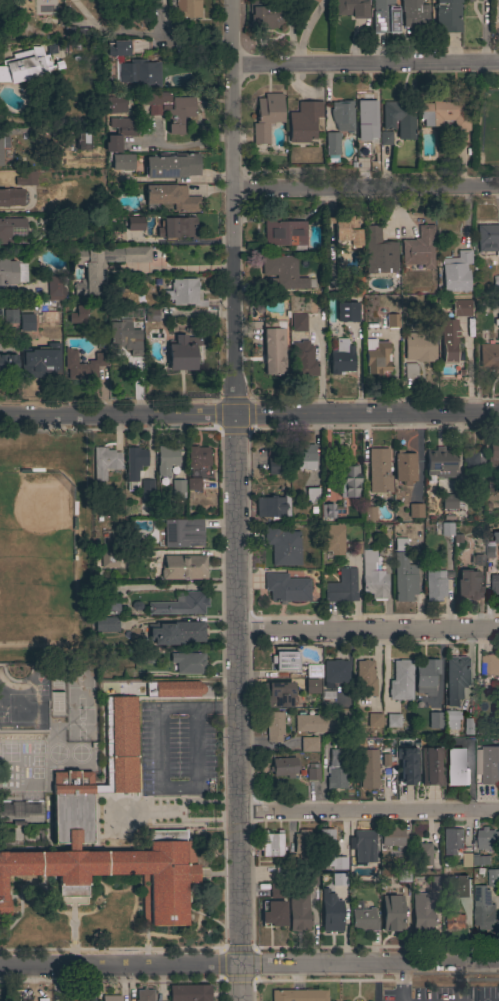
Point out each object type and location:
building: (467, 0)
building: (497, 0)
building: (351, 8)
building: (187, 9)
road: (159, 13)
building: (265, 14)
building: (414, 14)
building: (447, 15)
building: (384, 16)
road: (112, 25)
building: (120, 48)
road: (324, 62)
building: (25, 66)
building: (140, 74)
building: (116, 105)
building: (170, 109)
building: (367, 113)
building: (342, 115)
building: (267, 116)
building: (446, 117)
building: (398, 118)
building: (303, 121)
building: (119, 133)
building: (385, 138)
building: (78, 142)
building: (3, 144)
road: (185, 145)
building: (332, 147)
building: (363, 150)
building: (1, 151)
building: (122, 162)
building: (171, 166)
building: (26, 179)
road: (365, 187)
building: (10, 197)
building: (171, 198)
building: (135, 224)
building: (11, 229)
building: (177, 229)
building: (345, 231)
building: (283, 232)
building: (487, 239)
building: (419, 248)
building: (379, 252)
building: (103, 266)
road: (184, 267)
building: (456, 272)
building: (7, 273)
building: (282, 274)
building: (495, 281)
building: (353, 286)
building: (54, 288)
building: (184, 293)
road: (20, 303)
building: (461, 308)
building: (81, 312)
building: (347, 312)
building: (151, 315)
building: (10, 316)
building: (392, 320)
building: (26, 322)
building: (496, 322)
building: (125, 337)
building: (448, 340)
building: (274, 348)
building: (301, 348)
building: (419, 348)
building: (182, 353)
building: (376, 356)
building: (489, 356)
building: (341, 358)
building: (39, 363)
building: (84, 365)
building: (8, 367)
building: (410, 370)
road: (249, 413)
building: (493, 453)
building: (304, 457)
building: (471, 459)
building: (166, 460)
building: (274, 461)
building: (104, 462)
building: (440, 463)
building: (134, 465)
building: (197, 467)
building: (404, 468)
building: (378, 471)
building: (348, 481)
building: (492, 481)
building: (147, 482)
building: (177, 490)
building: (311, 495)
road: (234, 500)
building: (448, 502)
building: (272, 506)
building: (148, 509)
building: (327, 511)
building: (415, 511)
building: (368, 514)
building: (447, 529)
building: (184, 534)
building: (496, 536)
building: (334, 540)
building: (400, 545)
building: (283, 546)
building: (489, 550)
building: (109, 560)
building: (183, 567)
building: (372, 577)
building: (405, 582)
building: (495, 584)
building: (434, 585)
building: (468, 586)
building: (286, 587)
building: (342, 587)
building: (107, 604)
building: (175, 605)
building: (106, 625)
road: (367, 630)
building: (175, 632)
building: (145, 657)
building: (285, 661)
building: (188, 662)
building: (490, 665)
building: (313, 671)
building: (335, 673)
building: (426, 676)
building: (365, 678)
building: (456, 678)
building: (401, 681)
building: (312, 686)
building: (173, 688)
building: (496, 689)
building: (277, 695)
building: (57, 702)
building: (450, 719)
building: (435, 720)
building: (374, 721)
building: (393, 721)
building: (317, 723)
building: (476, 724)
building: (274, 726)
building: (466, 730)
building: (309, 744)
building: (476, 763)
building: (407, 766)
building: (431, 766)
building: (490, 766)
road: (160, 767)
building: (284, 767)
building: (456, 768)
building: (336, 769)
building: (369, 769)
building: (312, 772)
road: (367, 811)
building: (19, 812)
building: (71, 812)
road: (152, 812)
road: (182, 814)
road: (209, 821)
building: (391, 836)
building: (487, 839)
building: (452, 840)
building: (271, 844)
building: (302, 845)
building: (363, 847)
building: (329, 851)
building: (422, 854)
building: (474, 860)
building: (281, 873)
building: (309, 876)
building: (404, 876)
building: (493, 878)
building: (339, 879)
building: (436, 883)
building: (461, 887)
building: (277, 891)
building: (483, 909)
building: (299, 912)
building: (331, 912)
building: (422, 912)
building: (392, 913)
building: (273, 914)
building: (363, 918)
building: (454, 921)
road: (249, 965)
road: (401, 983)
road: (91, 984)
building: (189, 993)
building: (144, 995)
building: (299, 995)
building: (111, 998)
building: (42, 999)
building: (71, 1000)
building: (81, 1000)

